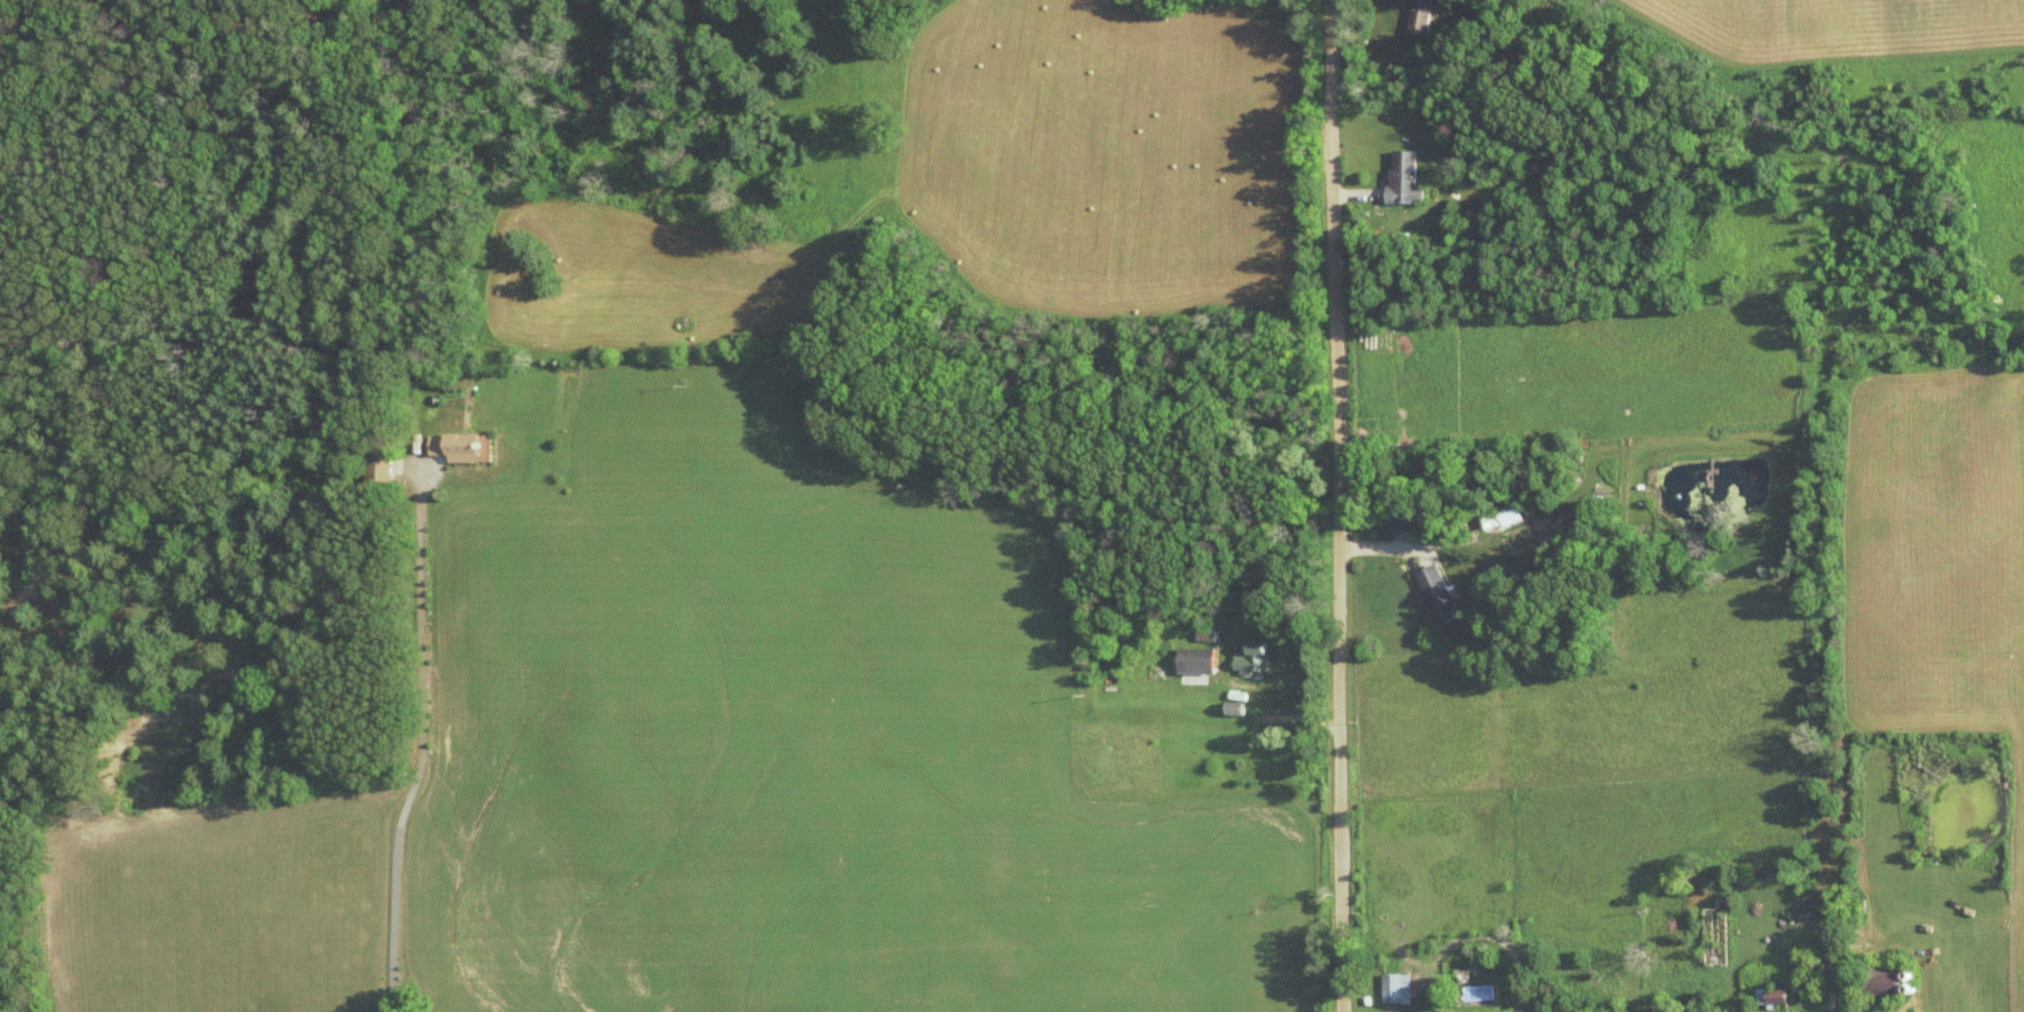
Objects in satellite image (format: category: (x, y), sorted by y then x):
building: (1421, 16)
crop: (1834, 31)
building: (1406, 177)
building: (461, 448)
road: (1338, 506)
building: (1512, 515)
building: (1409, 522)
crop: (1938, 573)
building: (1438, 595)
building: (1207, 633)
building: (1255, 656)
building: (1200, 661)
crop: (796, 753)
building: (1893, 985)
building: (1396, 988)
building: (1773, 996)

